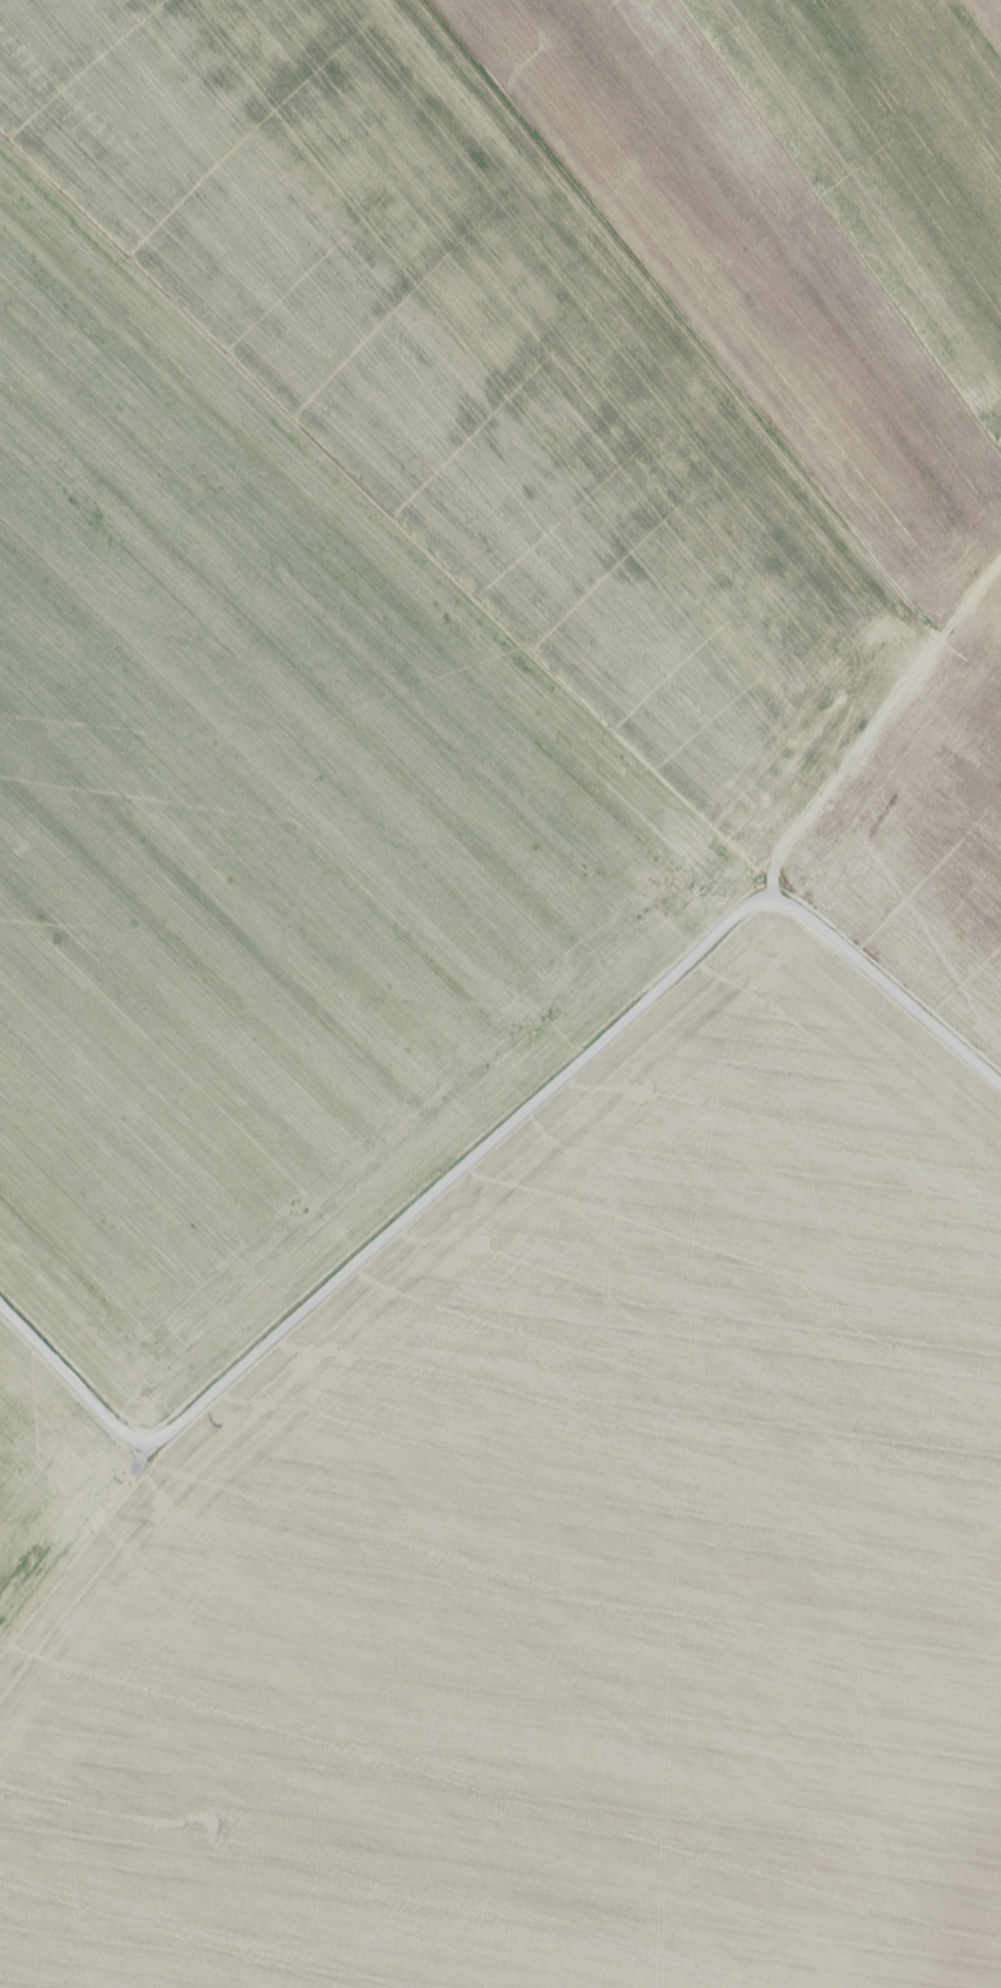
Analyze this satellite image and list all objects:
road: (454, 459)
road: (495, 1140)
road: (693, 1374)

